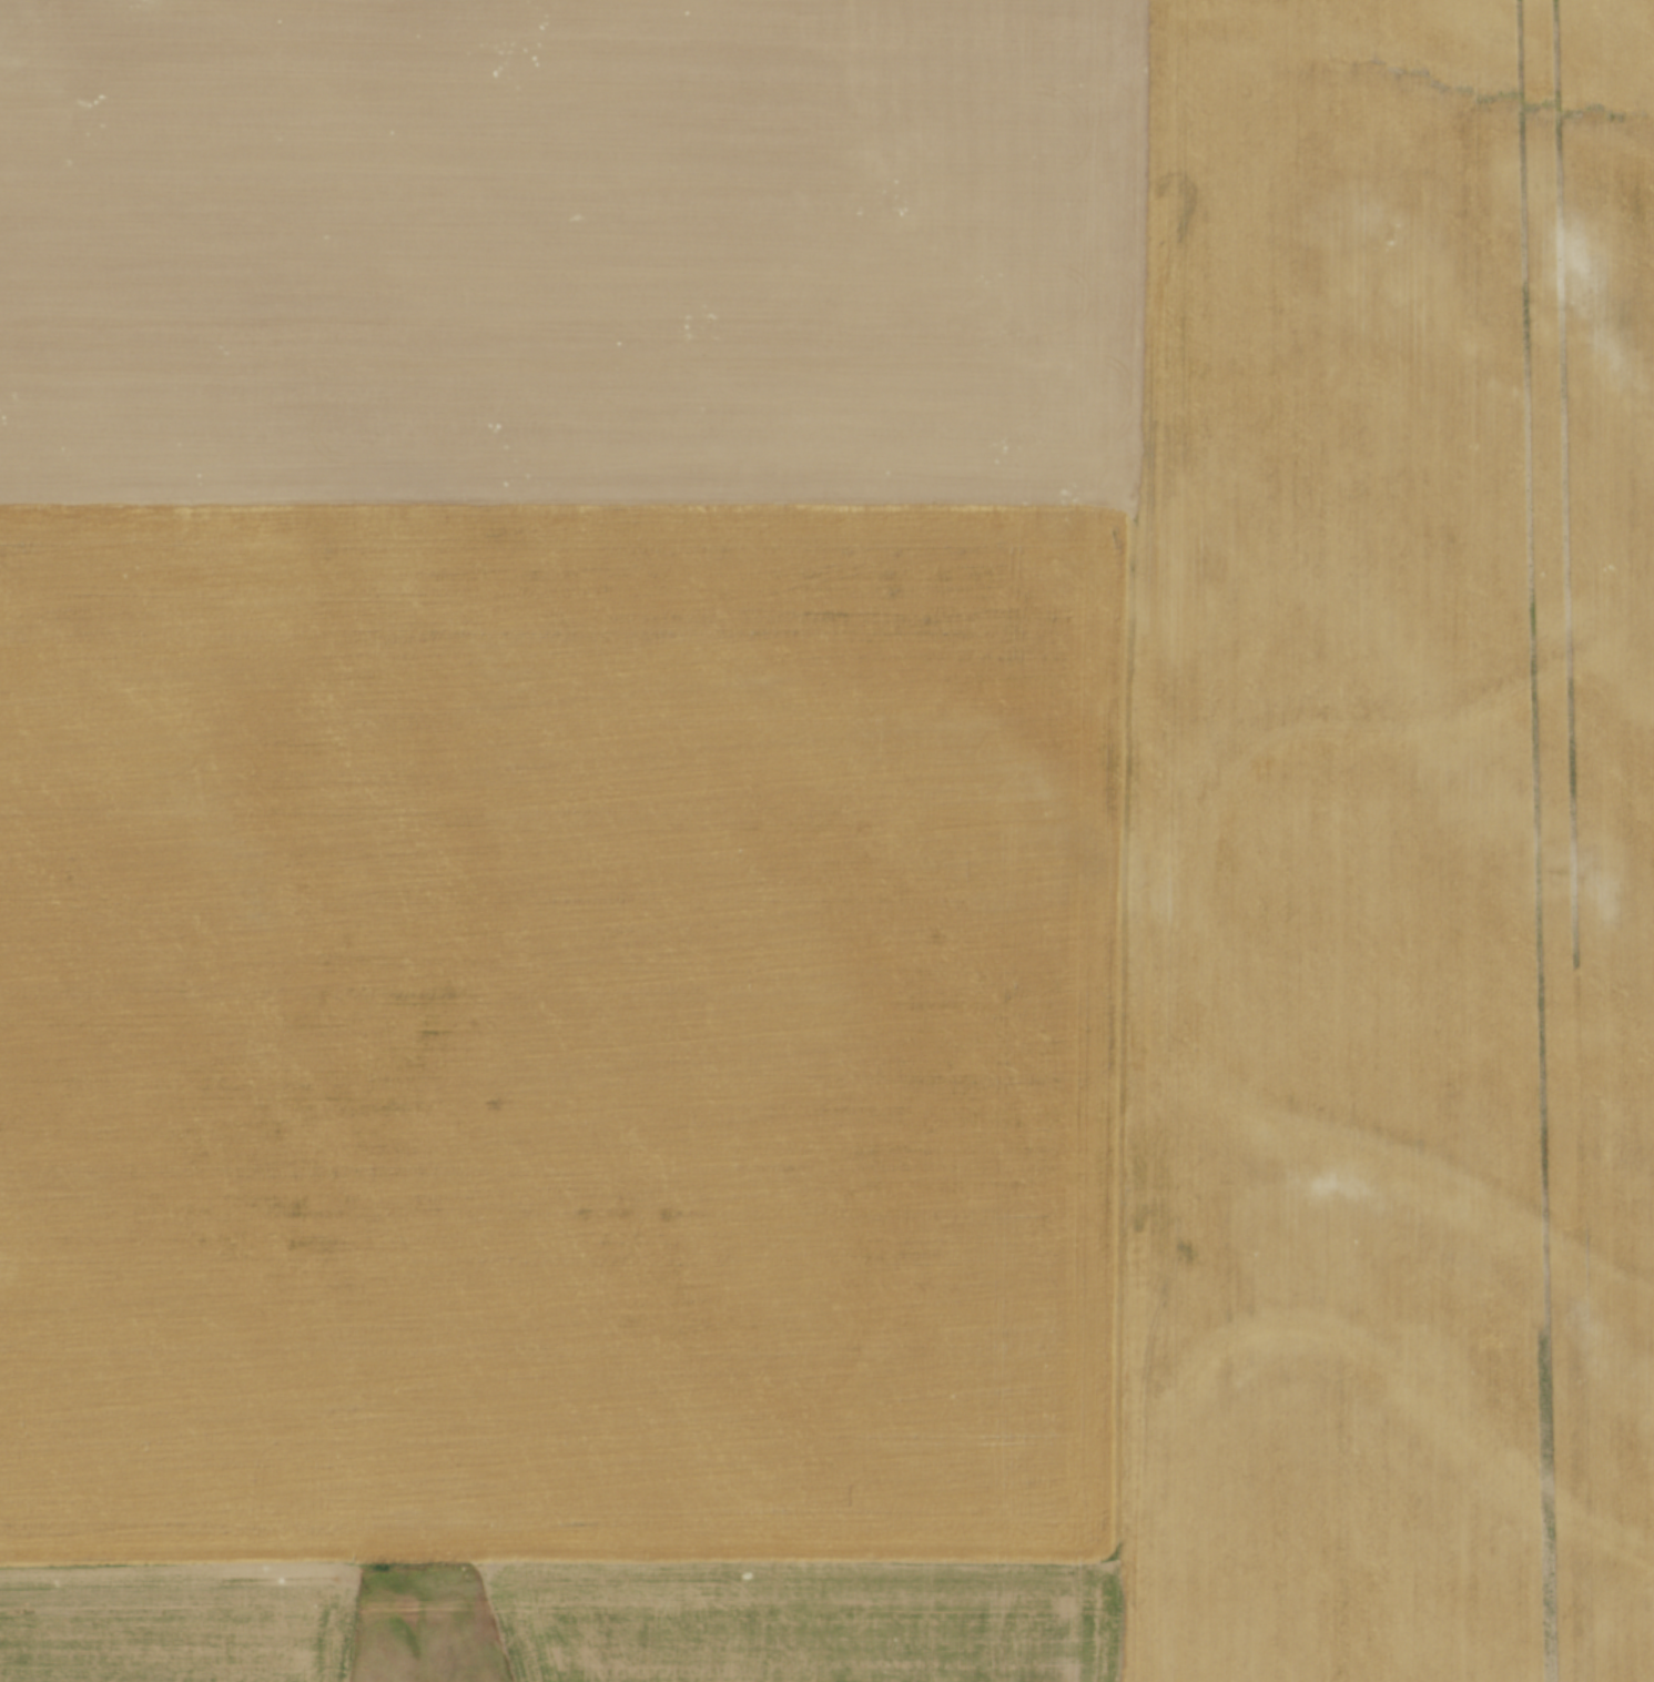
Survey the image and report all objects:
crop: (829, 835)

